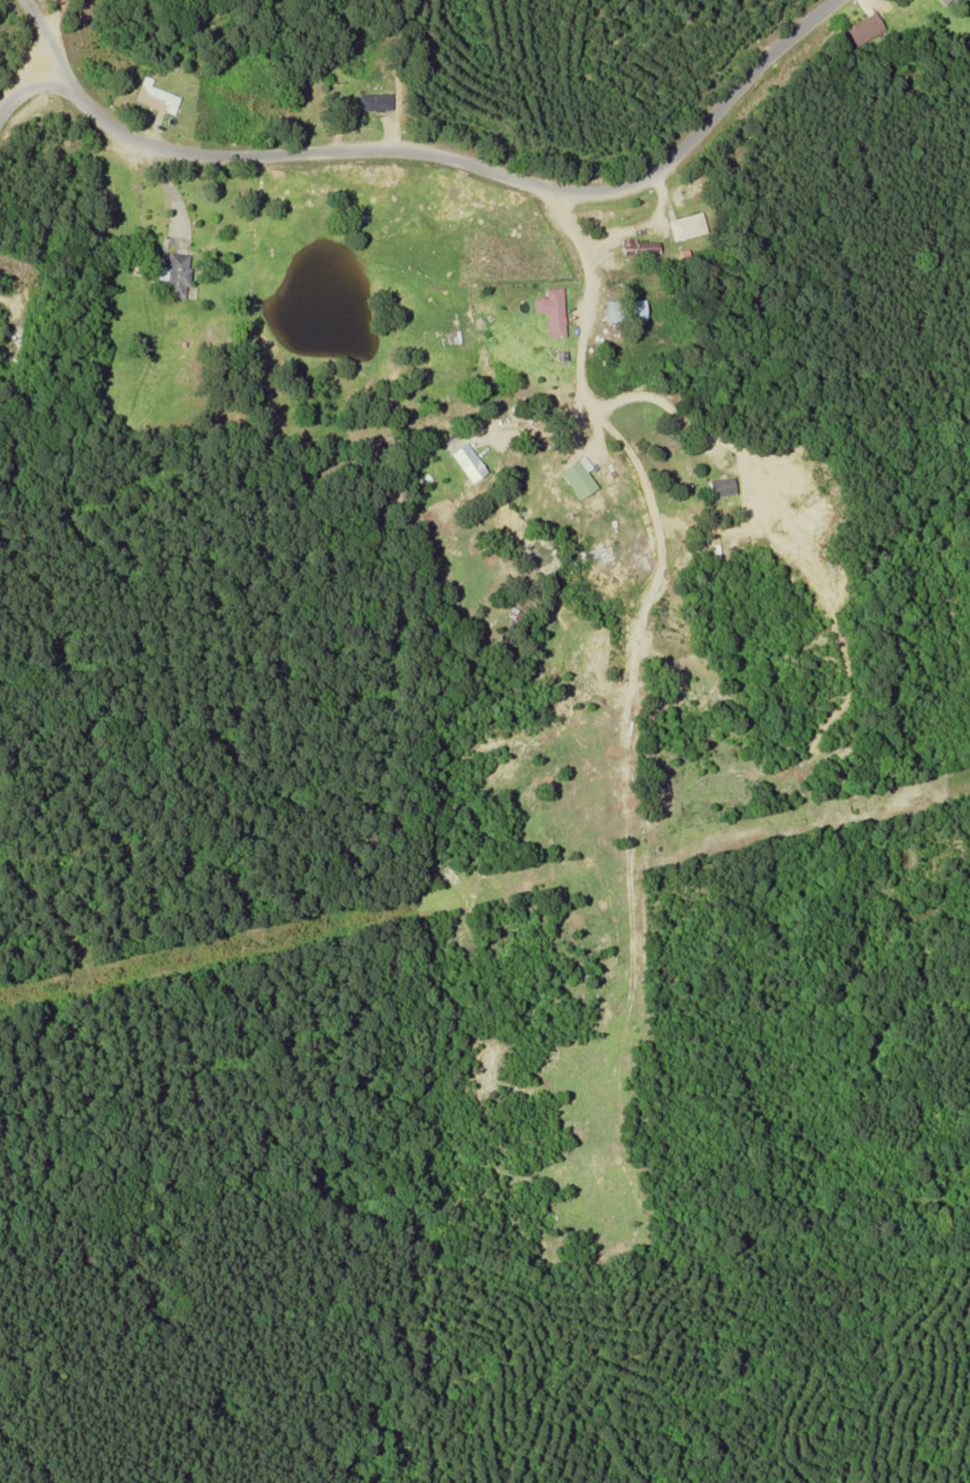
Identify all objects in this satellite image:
building: (943, 1)
road: (39, 25)
building: (863, 26)
road: (25, 85)
building: (154, 95)
building: (373, 100)
road: (457, 159)
building: (686, 225)
building: (637, 246)
building: (172, 272)
building: (551, 309)
building: (624, 309)
building: (467, 461)
building: (577, 478)
building: (721, 486)

